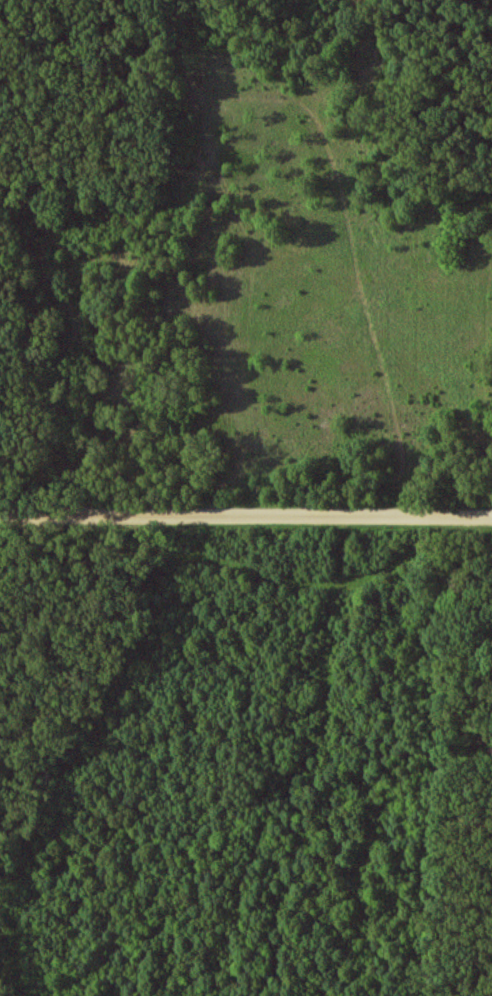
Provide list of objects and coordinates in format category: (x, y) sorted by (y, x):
road: (246, 521)

